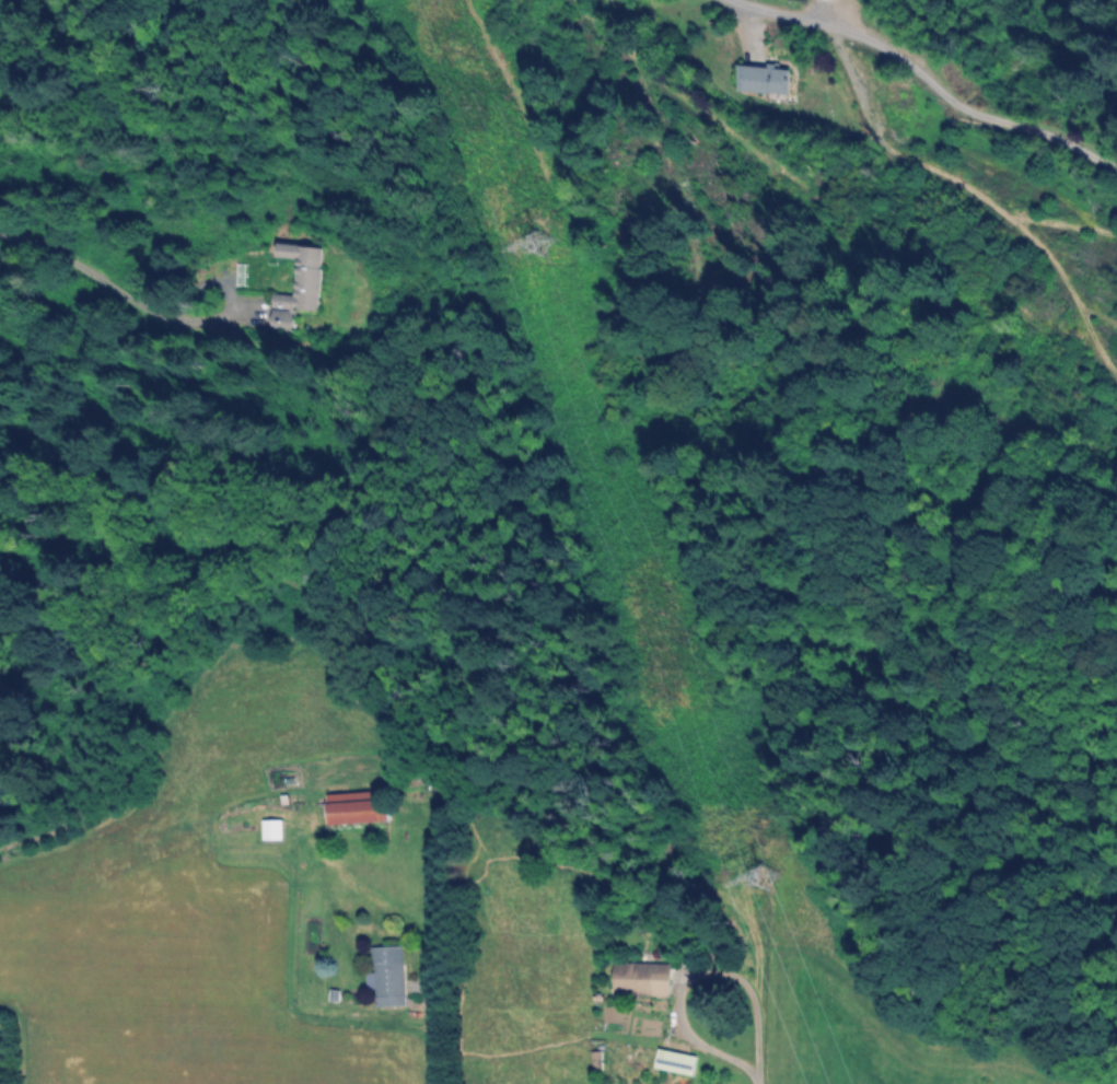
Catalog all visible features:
building: (767, 78)
road: (899, 139)
power tower: (532, 246)
road: (110, 275)
building: (300, 288)
building: (360, 807)
building: (275, 828)
power tower: (758, 883)
road: (689, 969)
building: (388, 972)
building: (642, 977)
road: (431, 1031)
building: (673, 1060)
road: (753, 1079)

